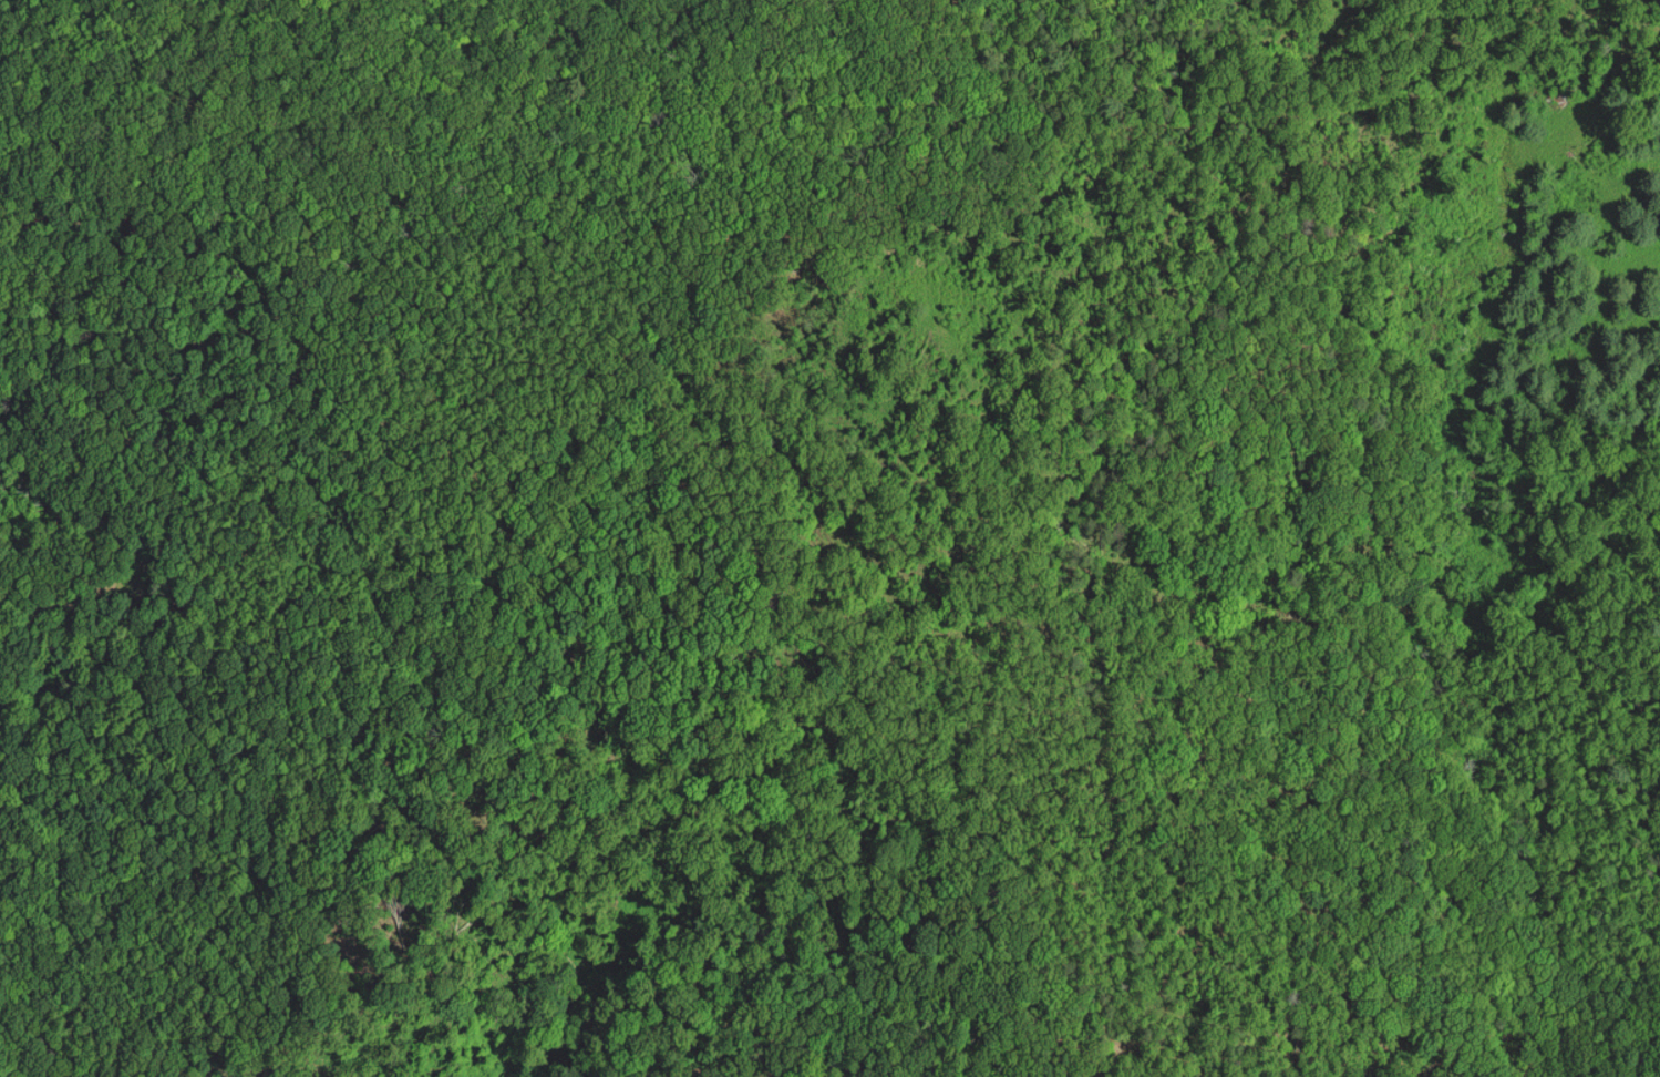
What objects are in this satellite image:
road: (1238, 44)

